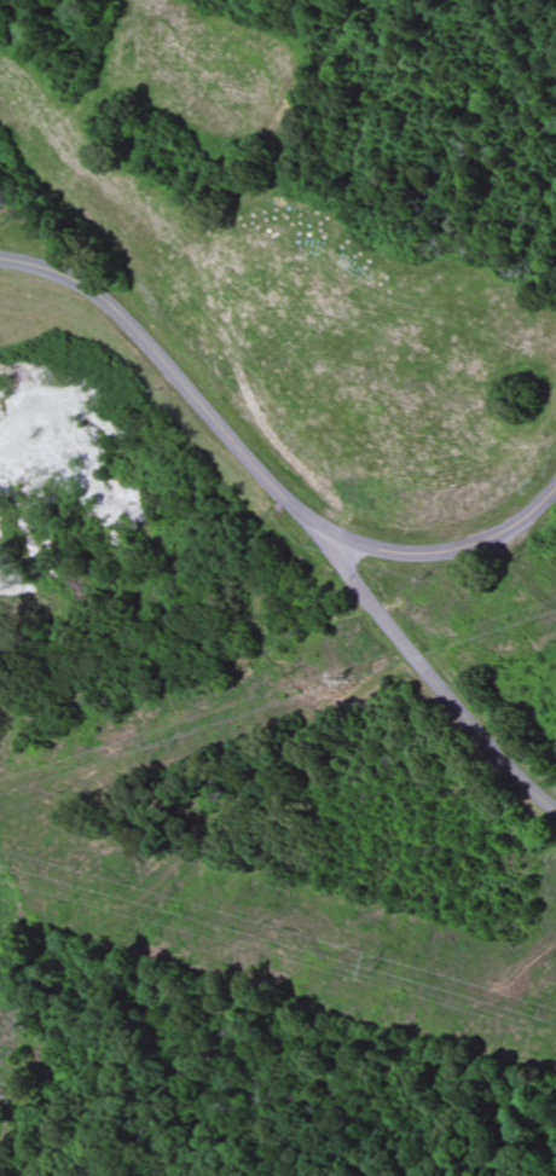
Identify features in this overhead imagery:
road: (260, 471)
road: (436, 677)
power tower: (372, 969)

